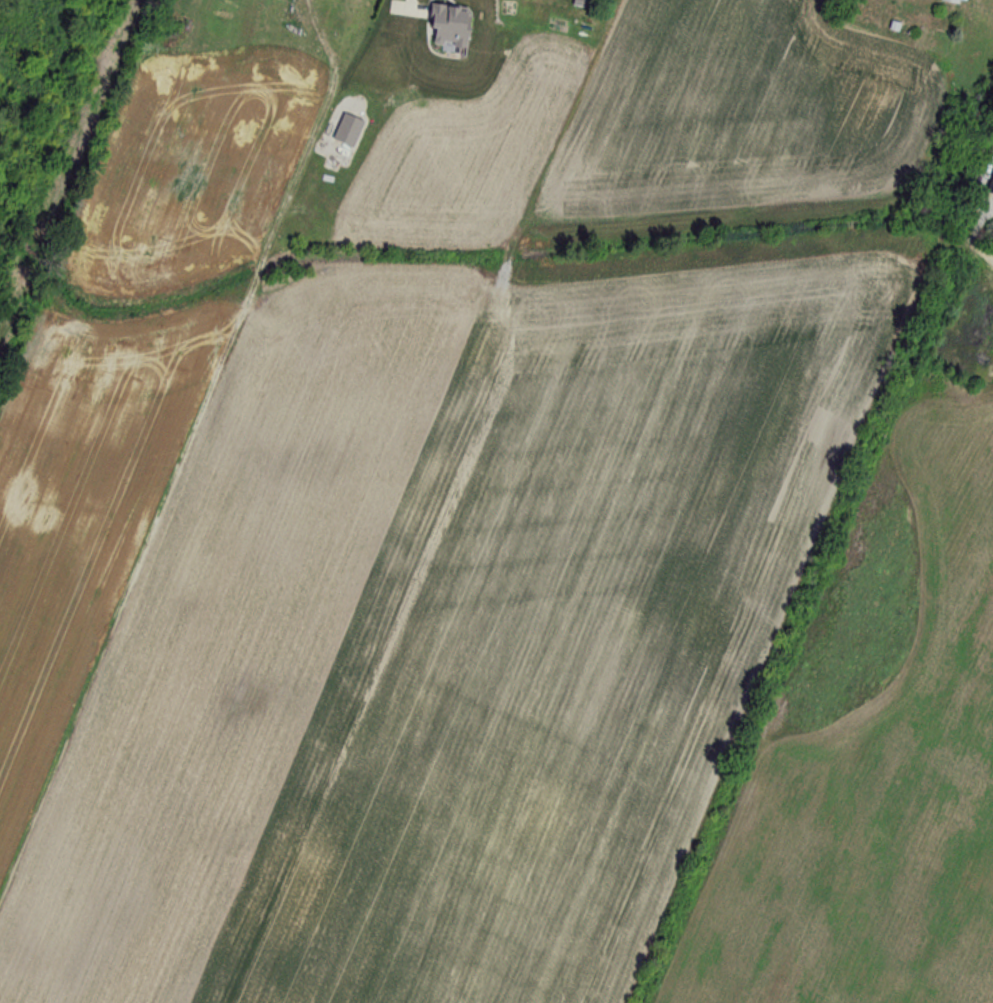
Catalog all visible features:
building: (954, 0)
road: (408, 7)
building: (449, 25)
crop: (655, 128)
building: (348, 130)
crop: (124, 397)
crop: (450, 628)
crop: (878, 736)

